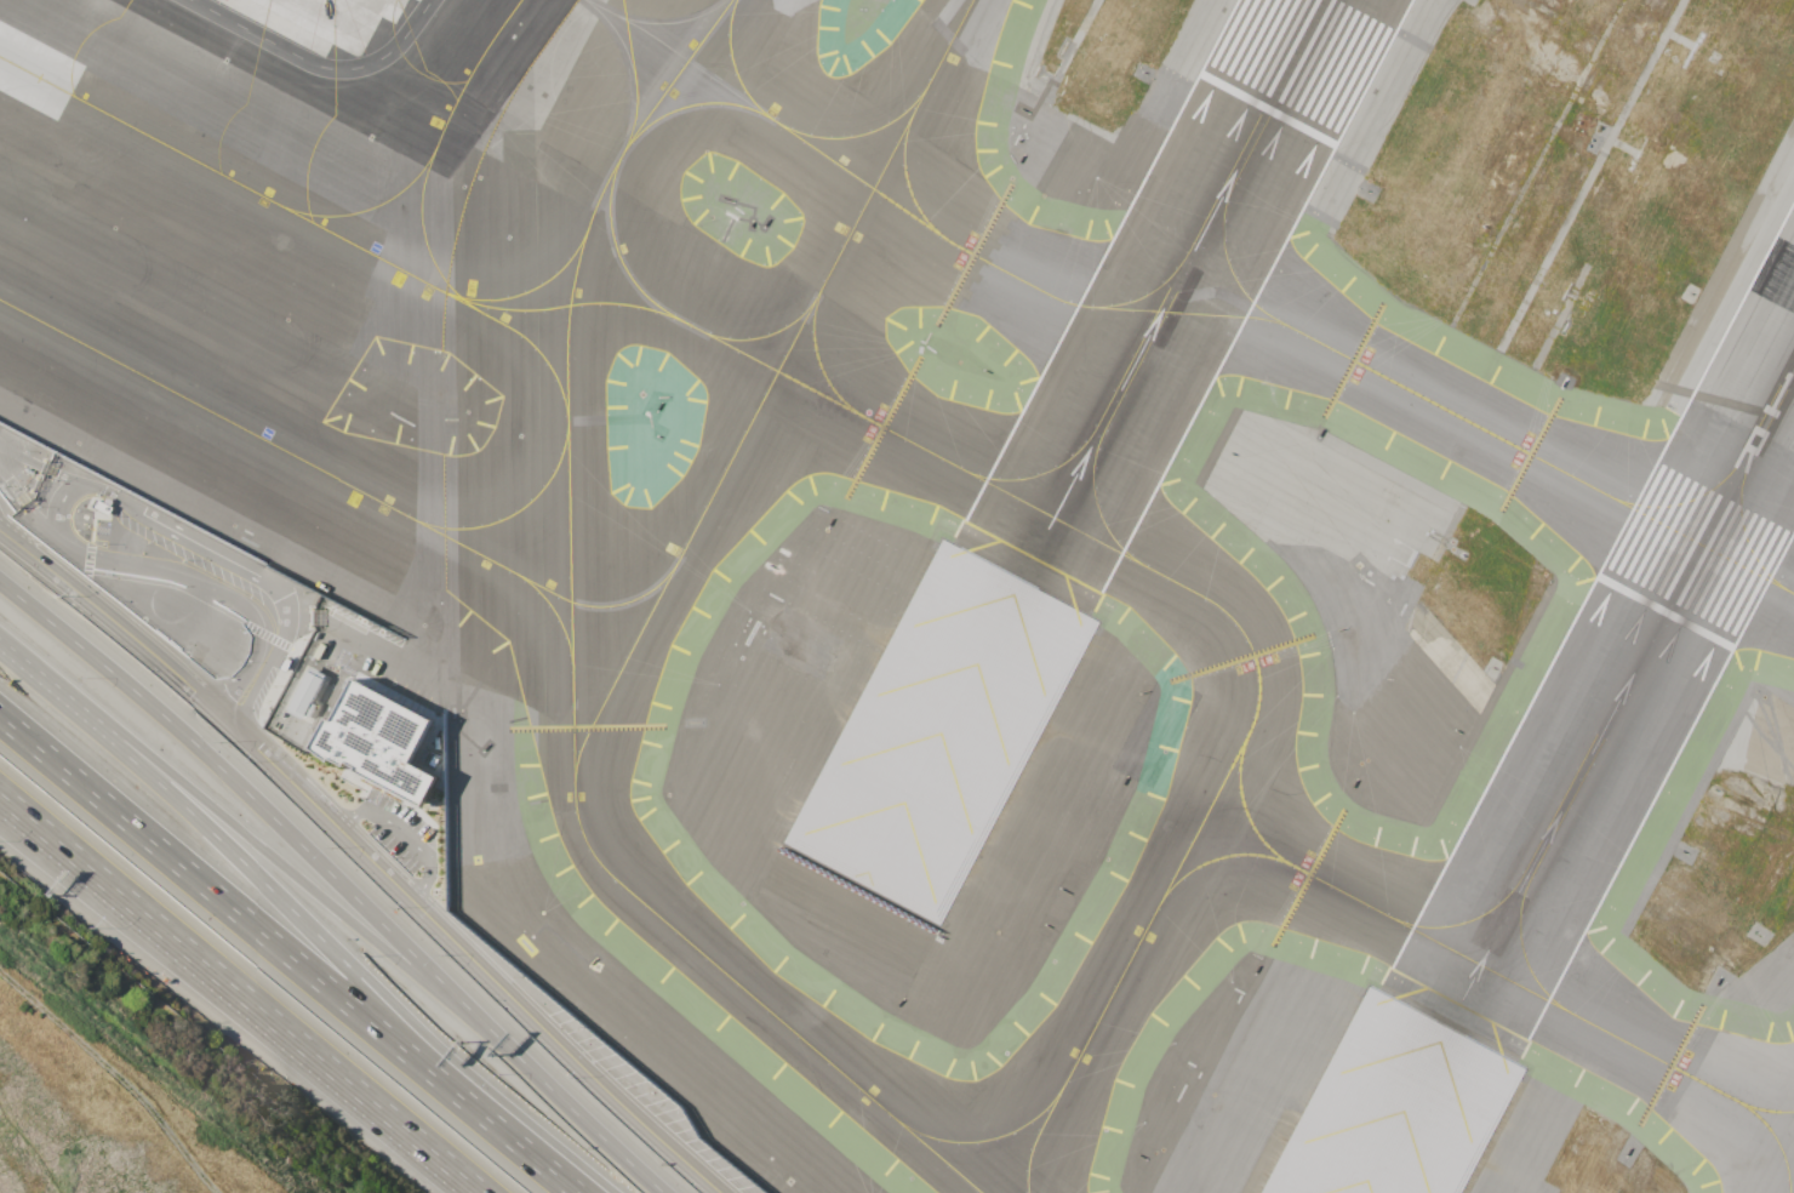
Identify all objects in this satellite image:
airport apron: (328, 21)
airport runway: (1293, 55)
airport taxiway: (732, 59)
road: (315, 64)
airport taxiway: (686, 104)
airport taxiway: (858, 132)
airport taxiway: (435, 139)
airport taxiway: (903, 169)
airport taxiway: (361, 210)
airport taxiway: (1219, 226)
airport taxiway: (1199, 227)
airport taxiway: (617, 246)
airport taxiway: (417, 275)
airport taxiway: (524, 289)
airport taxiway: (1284, 324)
airport runway: (1149, 331)
airport taxiway: (766, 332)
airport taxiway: (527, 337)
airport taxiway: (766, 386)
airport taxiway: (895, 433)
road: (44, 468)
airport taxiway: (332, 474)
airport runway: (1730, 492)
building: (98, 504)
road: (28, 508)
airport taxiway: (510, 510)
road: (91, 526)
parking lot: (99, 529)
road: (199, 542)
airport: (1007, 542)
road: (23, 549)
road: (86, 555)
road: (93, 556)
road: (168, 583)
airport taxiway: (1204, 598)
airport taxiway: (552, 609)
airport taxiway: (570, 612)
road: (281, 629)
road: (267, 634)
road: (292, 649)
building: (284, 662)
road: (248, 683)
road: (276, 687)
road: (58, 689)
building: (303, 692)
building: (376, 738)
road: (218, 765)
road: (1, 798)
airport taxiway: (1245, 807)
airport runway: (1561, 809)
parking lot: (398, 829)
road: (404, 834)
road: (268, 851)
road: (233, 852)
airport taxiway: (1218, 857)
road: (387, 877)
road: (216, 896)
airport taxiway: (1406, 919)
airport taxiway: (1472, 955)
airport taxiway: (1108, 995)
road: (241, 997)
airport taxiway: (1581, 1014)
road: (394, 1021)
road: (119, 1074)
road: (541, 1081)
airport taxiway: (1761, 1104)
park: (103, 1107)
road: (505, 1134)
airport taxiway: (1770, 1140)
airport taxiway: (943, 1157)

